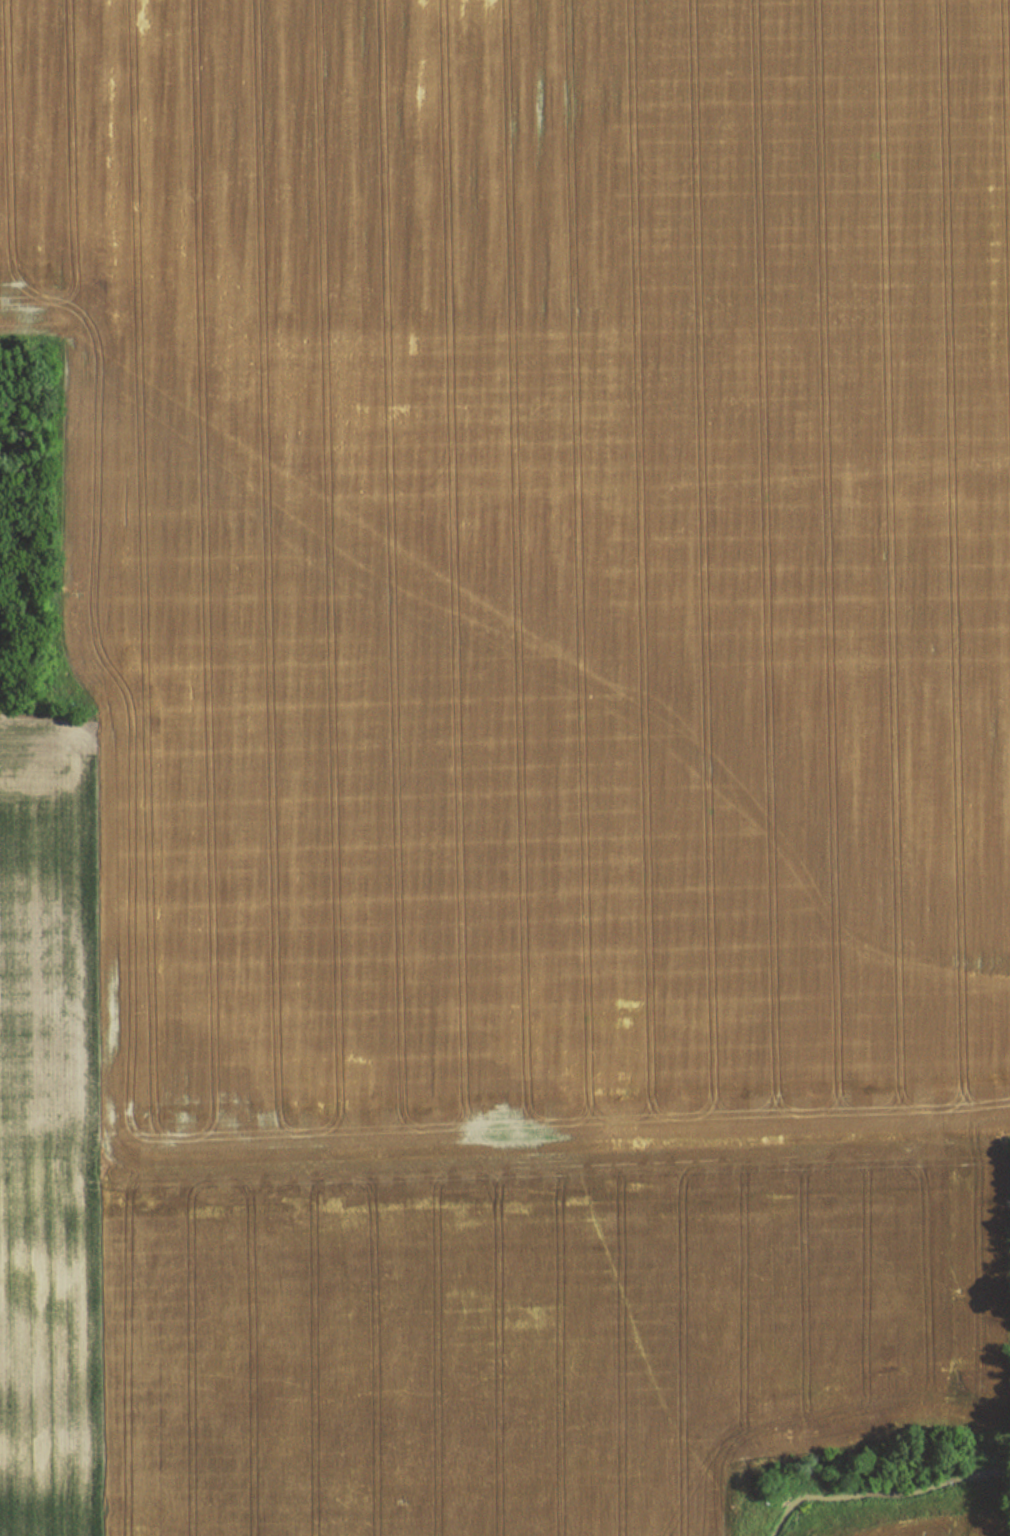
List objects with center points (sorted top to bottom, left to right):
crop: (531, 735)
crop: (51, 1128)
crop: (929, 1533)

